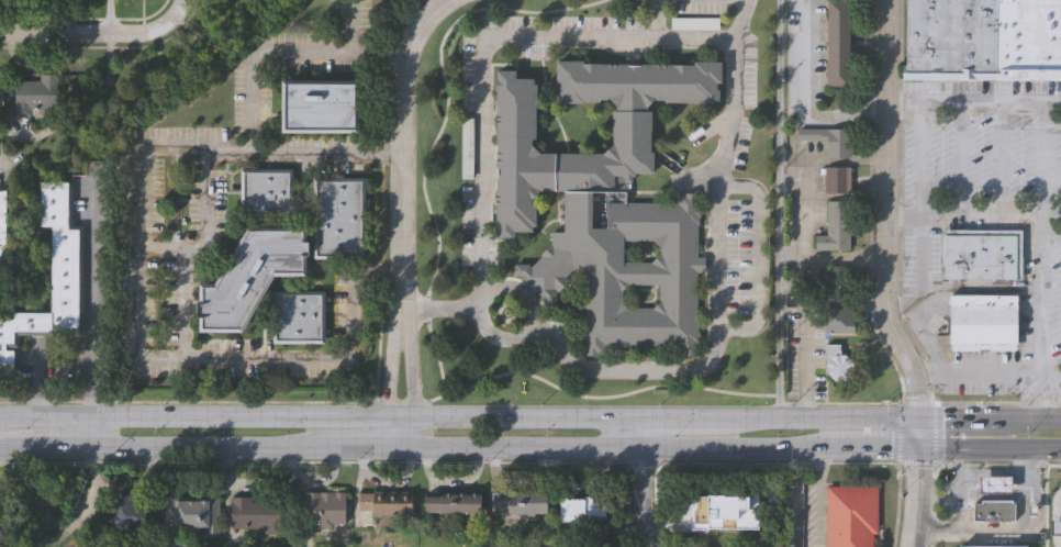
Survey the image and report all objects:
road: (171, 9)
road: (658, 20)
road: (739, 21)
building: (694, 24)
road: (350, 26)
road: (85, 33)
building: (985, 38)
road: (723, 41)
building: (837, 43)
road: (283, 55)
building: (36, 96)
road: (89, 97)
road: (805, 97)
road: (972, 102)
building: (319, 107)
building: (828, 139)
road: (399, 146)
building: (836, 179)
building: (267, 192)
building: (605, 200)
road: (961, 213)
building: (340, 217)
building: (837, 224)
building: (3, 234)
road: (189, 248)
road: (165, 249)
building: (981, 252)
road: (804, 259)
road: (1041, 259)
building: (55, 271)
road: (883, 277)
building: (252, 278)
building: (840, 278)
road: (142, 294)
road: (94, 297)
road: (845, 303)
road: (916, 304)
building: (298, 315)
building: (839, 320)
building: (984, 321)
building: (7, 358)
road: (804, 358)
road: (407, 361)
building: (838, 364)
road: (387, 382)
road: (931, 383)
road: (203, 410)
road: (735, 412)
traffic signals: (920, 415)
road: (409, 428)
road: (53, 434)
road: (203, 447)
road: (735, 448)
traffic signals: (918, 449)
road: (639, 479)
road: (312, 480)
road: (358, 481)
road: (397, 481)
building: (996, 483)
road: (266, 484)
road: (960, 488)
road: (227, 495)
road: (796, 498)
road: (819, 498)
building: (387, 502)
building: (723, 502)
building: (455, 503)
building: (520, 504)
building: (326, 509)
building: (583, 510)
building: (994, 511)
building: (0, 513)
building: (129, 513)
building: (257, 513)
building: (190, 514)
building: (851, 515)
road: (1003, 525)
building: (717, 534)
building: (1051, 536)
building: (993, 546)

